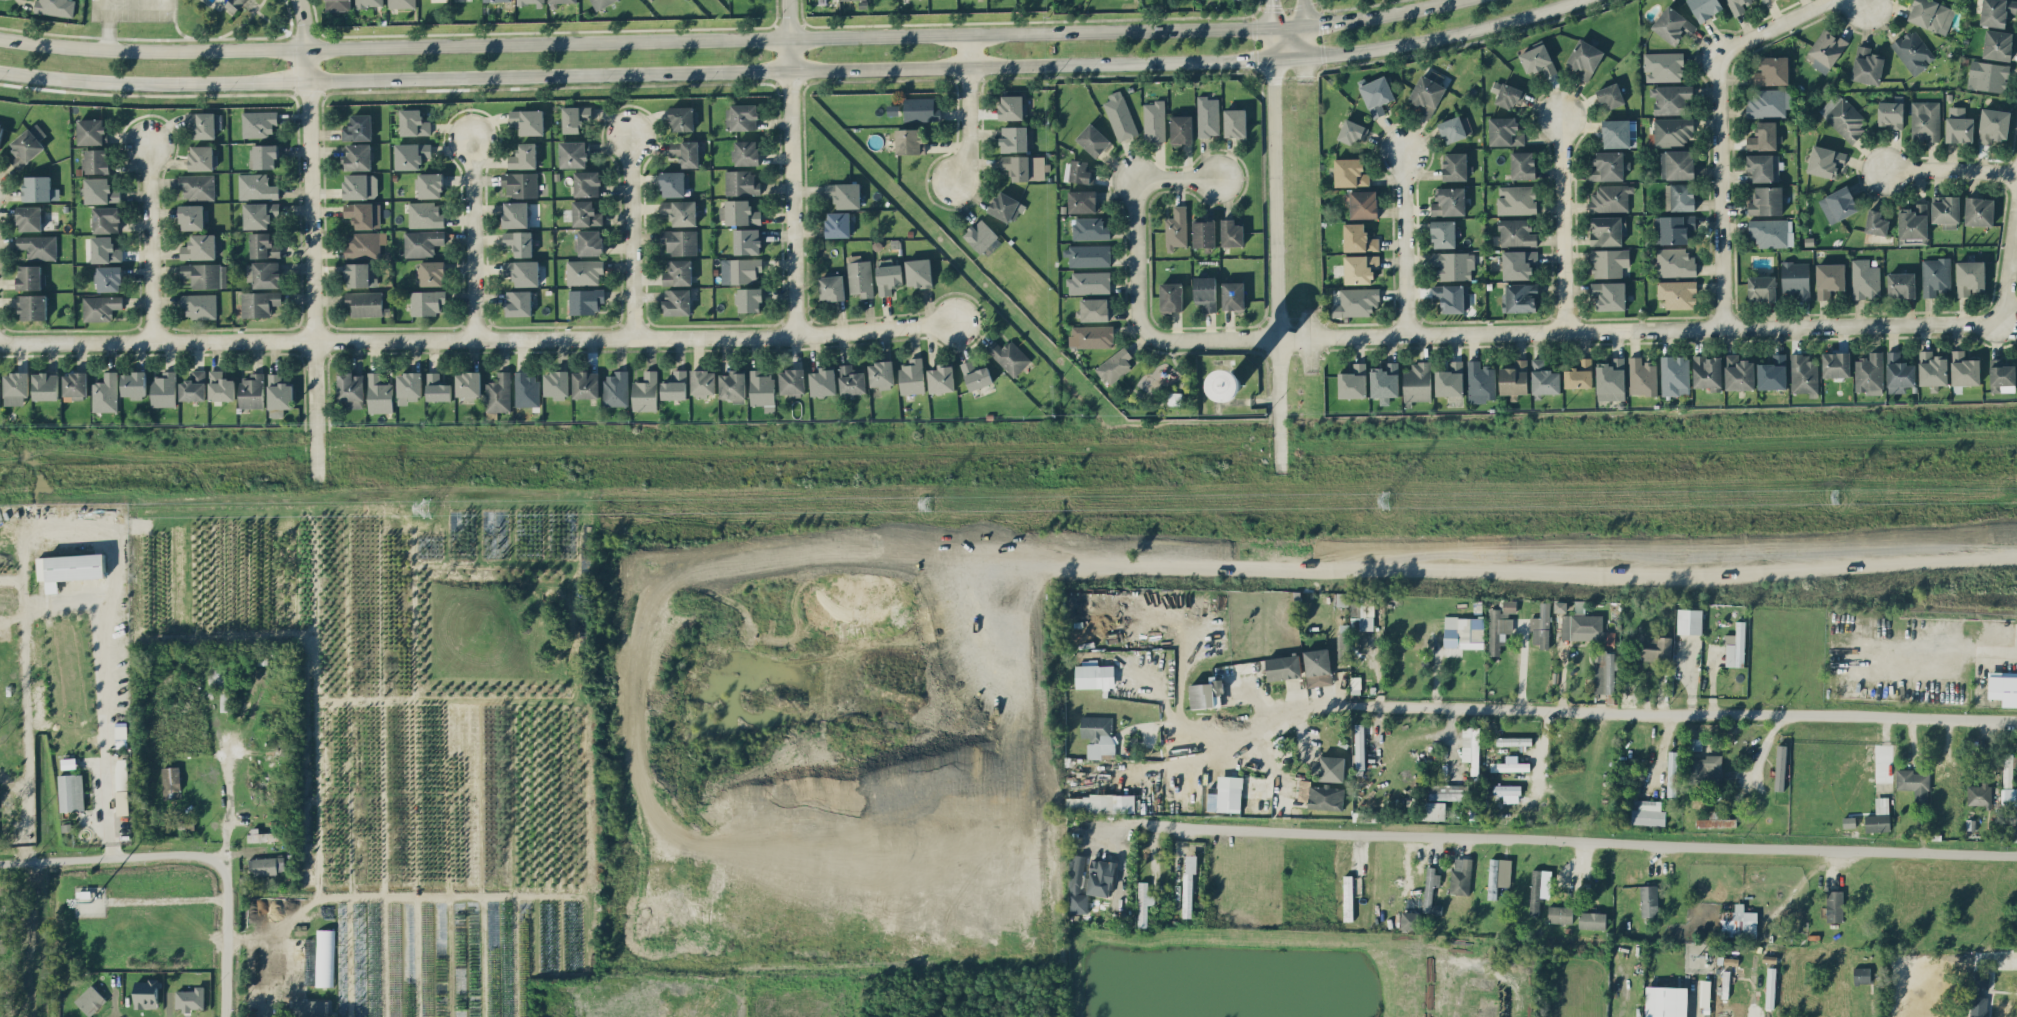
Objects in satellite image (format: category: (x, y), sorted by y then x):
building: (497, 0)
building: (562, 0)
building: (1763, 0)
building: (529, 2)
building: (368, 3)
building: (401, 3)
building: (600, 3)
road: (130, 4)
building: (234, 5)
building: (337, 5)
building: (1737, 6)
building: (56, 7)
building: (1705, 8)
building: (1997, 12)
park: (192, 14)
building: (1931, 15)
building: (1672, 25)
road: (105, 26)
road: (1770, 26)
road: (1267, 29)
road: (1295, 33)
road: (137, 34)
road: (727, 40)
building: (1998, 44)
building: (1825, 50)
building: (1913, 51)
building: (1585, 58)
building: (1537, 60)
building: (1867, 65)
building: (1663, 66)
building: (1772, 70)
road: (790, 72)
building: (1988, 76)
building: (1427, 92)
building: (1505, 94)
building: (1377, 95)
building: (1610, 96)
building: (1671, 98)
building: (1768, 102)
building: (1012, 107)
building: (921, 109)
road: (969, 109)
building: (1891, 112)
building: (1120, 116)
building: (1208, 116)
building: (1843, 116)
building: (575, 117)
building: (741, 117)
building: (683, 118)
building: (1925, 119)
building: (1154, 120)
building: (528, 121)
building: (414, 122)
building: (204, 123)
building: (259, 123)
building: (1235, 123)
building: (1959, 125)
building: (1993, 125)
building: (358, 127)
building: (1455, 128)
building: (1181, 129)
building: (1673, 130)
building: (92, 131)
building: (1352, 131)
building: (1505, 131)
building: (1616, 133)
building: (1, 134)
building: (1764, 136)
building: (1014, 138)
building: (1093, 139)
building: (908, 140)
building: (28, 145)
building: (686, 152)
building: (746, 153)
building: (411, 154)
building: (573, 154)
building: (263, 156)
building: (524, 156)
building: (202, 157)
building: (357, 157)
building: (96, 160)
building: (1825, 161)
building: (1523, 164)
building: (1677, 164)
road: (793, 166)
building: (1024, 166)
building: (1456, 166)
building: (1608, 166)
building: (1762, 167)
road: (1947, 170)
building: (1080, 172)
building: (1350, 172)
building: (741, 182)
building: (587, 183)
building: (674, 183)
building: (429, 184)
building: (520, 184)
building: (360, 185)
building: (197, 186)
building: (256, 186)
building: (39, 188)
building: (100, 190)
road: (1716, 190)
building: (844, 194)
building: (1680, 196)
building: (1611, 197)
building: (1516, 199)
building: (1766, 200)
building: (1082, 201)
building: (1449, 201)
building: (1363, 204)
building: (1838, 204)
building: (1006, 206)
building: (1945, 210)
building: (680, 211)
building: (1979, 211)
building: (739, 212)
building: (586, 213)
road: (1132, 213)
building: (260, 214)
building: (363, 214)
building: (424, 214)
building: (515, 214)
building: (193, 217)
building: (29, 218)
building: (106, 219)
building: (1876, 222)
road: (1560, 223)
building: (838, 224)
building: (1090, 228)
building: (1176, 228)
building: (1673, 228)
building: (1607, 230)
building: (1231, 232)
building: (1516, 232)
building: (1771, 232)
building: (1204, 233)
building: (1443, 233)
building: (981, 235)
road: (476, 237)
road: (633, 237)
building: (1358, 238)
road: (312, 239)
road: (154, 240)
building: (747, 240)
building: (680, 241)
building: (422, 242)
building: (519, 242)
building: (590, 242)
road: (1401, 243)
building: (365, 244)
building: (264, 245)
building: (38, 246)
building: (200, 247)
road: (2007, 247)
building: (105, 249)
building: (1088, 255)
building: (1608, 262)
building: (1675, 262)
building: (1518, 263)
road: (1273, 264)
building: (1454, 265)
building: (1360, 268)
building: (740, 270)
building: (584, 271)
building: (431, 272)
building: (523, 272)
building: (678, 272)
building: (919, 272)
building: (205, 274)
building: (263, 274)
building: (360, 275)
building: (1935, 275)
building: (860, 276)
building: (888, 276)
building: (1970, 276)
building: (30, 277)
building: (109, 278)
building: (1829, 278)
building: (1795, 279)
building: (1865, 279)
building: (1089, 282)
building: (1901, 284)
building: (832, 287)
building: (1761, 288)
building: (1205, 292)
building: (1677, 293)
building: (1233, 295)
building: (1609, 295)
building: (1171, 296)
building: (1452, 297)
building: (1520, 297)
building: (749, 299)
building: (585, 300)
building: (677, 301)
building: (1356, 301)
building: (259, 302)
building: (426, 302)
building: (518, 302)
building: (365, 303)
building: (199, 305)
building: (33, 306)
building: (100, 307)
building: (1094, 309)
road: (1571, 332)
building: (1091, 336)
road: (480, 338)
building: (1009, 356)
building: (1836, 364)
building: (1115, 365)
building: (1932, 368)
building: (1964, 369)
building: (1707, 372)
building: (1773, 372)
building: (1738, 373)
building: (1869, 373)
building: (1899, 373)
building: (881, 374)
building: (1579, 374)
building: (1803, 374)
building: (976, 375)
building: (1675, 375)
building: (912, 376)
building: (1642, 376)
building: (2001, 376)
building: (1544, 377)
building: (941, 378)
building: (1514, 378)
building: (1450, 379)
building: (1611, 379)
building: (851, 380)
building: (792, 381)
building: (823, 381)
building: (1353, 381)
building: (1385, 381)
building: (703, 382)
building: (1417, 382)
building: (1480, 382)
building: (557, 383)
building: (134, 384)
building: (469, 384)
building: (586, 384)
building: (1231, 384)
building: (46, 385)
building: (675, 385)
building: (733, 385)
building: (193, 386)
building: (221, 386)
building: (409, 386)
building: (437, 387)
building: (762, 387)
building: (16, 388)
building: (616, 388)
building: (164, 389)
building: (351, 389)
building: (526, 389)
building: (252, 390)
building: (498, 392)
building: (646, 392)
building: (105, 393)
building: (379, 394)
building: (279, 395)
power tower: (1833, 498)
power tower: (1366, 501)
power tower: (923, 503)
power tower: (437, 509)
road: (63, 523)
building: (70, 568)
road: (12, 580)
building: (1342, 599)
building: (1560, 606)
building: (1363, 610)
building: (1689, 621)
building: (1500, 625)
building: (1541, 626)
building: (1582, 626)
building: (1463, 632)
building: (1610, 638)
building: (1735, 646)
building: (1655, 648)
building: (1283, 667)
building: (1318, 667)
building: (1604, 671)
building: (1094, 676)
building: (2003, 687)
building: (1206, 693)
road: (1641, 711)
building: (1098, 735)
building: (1513, 740)
building: (1359, 746)
building: (1471, 747)
building: (1509, 766)
building: (1780, 767)
building: (1329, 768)
building: (1704, 769)
building: (2007, 769)
building: (1672, 773)
building: (171, 781)
building: (1913, 783)
road: (14, 786)
building: (122, 786)
building: (1303, 789)
building: (1448, 791)
building: (71, 792)
building: (1508, 792)
building: (1229, 793)
building: (1979, 794)
building: (2008, 796)
building: (1326, 797)
building: (1100, 803)
building: (1433, 810)
building: (1647, 812)
building: (1878, 816)
building: (1715, 820)
road: (1554, 833)
road: (188, 853)
building: (267, 865)
building: (1189, 872)
building: (1461, 875)
building: (1498, 875)
building: (1100, 877)
building: (1077, 885)
building: (1539, 888)
building: (1430, 889)
building: (1649, 900)
building: (1348, 901)
building: (1143, 903)
building: (1834, 905)
building: (1560, 914)
building: (1592, 919)
building: (1410, 920)
building: (1738, 922)
building: (324, 957)
building: (1861, 974)
building: (1770, 987)
building: (1705, 992)
building: (146, 994)
building: (1979, 995)
building: (190, 998)
building: (90, 1000)
building: (1665, 1001)
road: (1693, 1007)
building: (310, 1008)
road: (1753, 1013)

